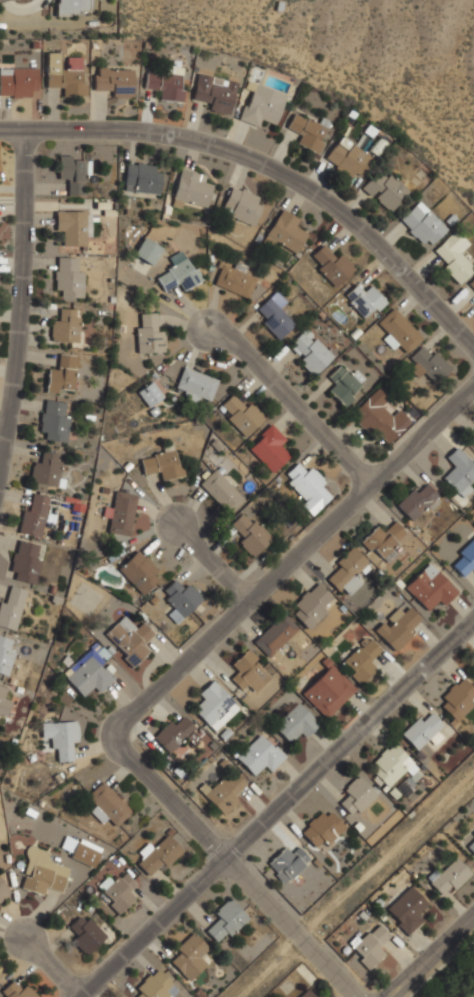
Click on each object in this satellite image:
building: (473, 2)
building: (74, 7)
building: (65, 72)
building: (114, 79)
building: (19, 81)
building: (165, 83)
building: (215, 92)
building: (262, 104)
building: (307, 131)
building: (347, 159)
road: (274, 161)
building: (72, 173)
building: (143, 177)
building: (190, 187)
building: (385, 190)
building: (241, 204)
building: (422, 223)
building: (74, 224)
building: (285, 231)
building: (147, 250)
building: (453, 255)
building: (329, 264)
building: (179, 271)
building: (68, 275)
building: (236, 278)
building: (472, 282)
road: (20, 294)
building: (364, 300)
building: (274, 315)
building: (66, 325)
building: (398, 330)
building: (148, 333)
building: (311, 351)
building: (429, 363)
building: (62, 375)
building: (196, 384)
building: (343, 384)
building: (150, 393)
road: (296, 400)
building: (241, 414)
building: (379, 415)
building: (54, 420)
building: (473, 442)
building: (269, 447)
building: (161, 463)
building: (46, 468)
building: (459, 472)
building: (308, 487)
building: (220, 490)
building: (416, 500)
building: (121, 513)
building: (33, 514)
building: (250, 532)
building: (383, 539)
building: (464, 557)
road: (292, 559)
building: (25, 561)
road: (214, 563)
building: (139, 571)
building: (346, 571)
building: (431, 587)
building: (180, 599)
building: (312, 605)
building: (11, 606)
building: (399, 627)
building: (275, 635)
building: (129, 639)
building: (5, 654)
building: (360, 659)
building: (248, 670)
building: (89, 674)
building: (328, 691)
building: (458, 697)
building: (4, 701)
building: (214, 705)
building: (296, 721)
building: (423, 731)
building: (175, 733)
building: (60, 737)
building: (261, 754)
building: (391, 764)
building: (223, 792)
building: (356, 797)
building: (106, 804)
road: (276, 806)
building: (322, 828)
building: (470, 843)
building: (79, 851)
building: (159, 854)
road: (238, 863)
building: (287, 863)
building: (450, 875)
building: (43, 876)
building: (3, 890)
building: (116, 891)
building: (407, 909)
building: (225, 920)
building: (86, 933)
building: (370, 945)
road: (431, 956)
building: (189, 957)
road: (50, 966)
building: (154, 986)
building: (17, 990)
building: (470, 993)
building: (306, 994)

